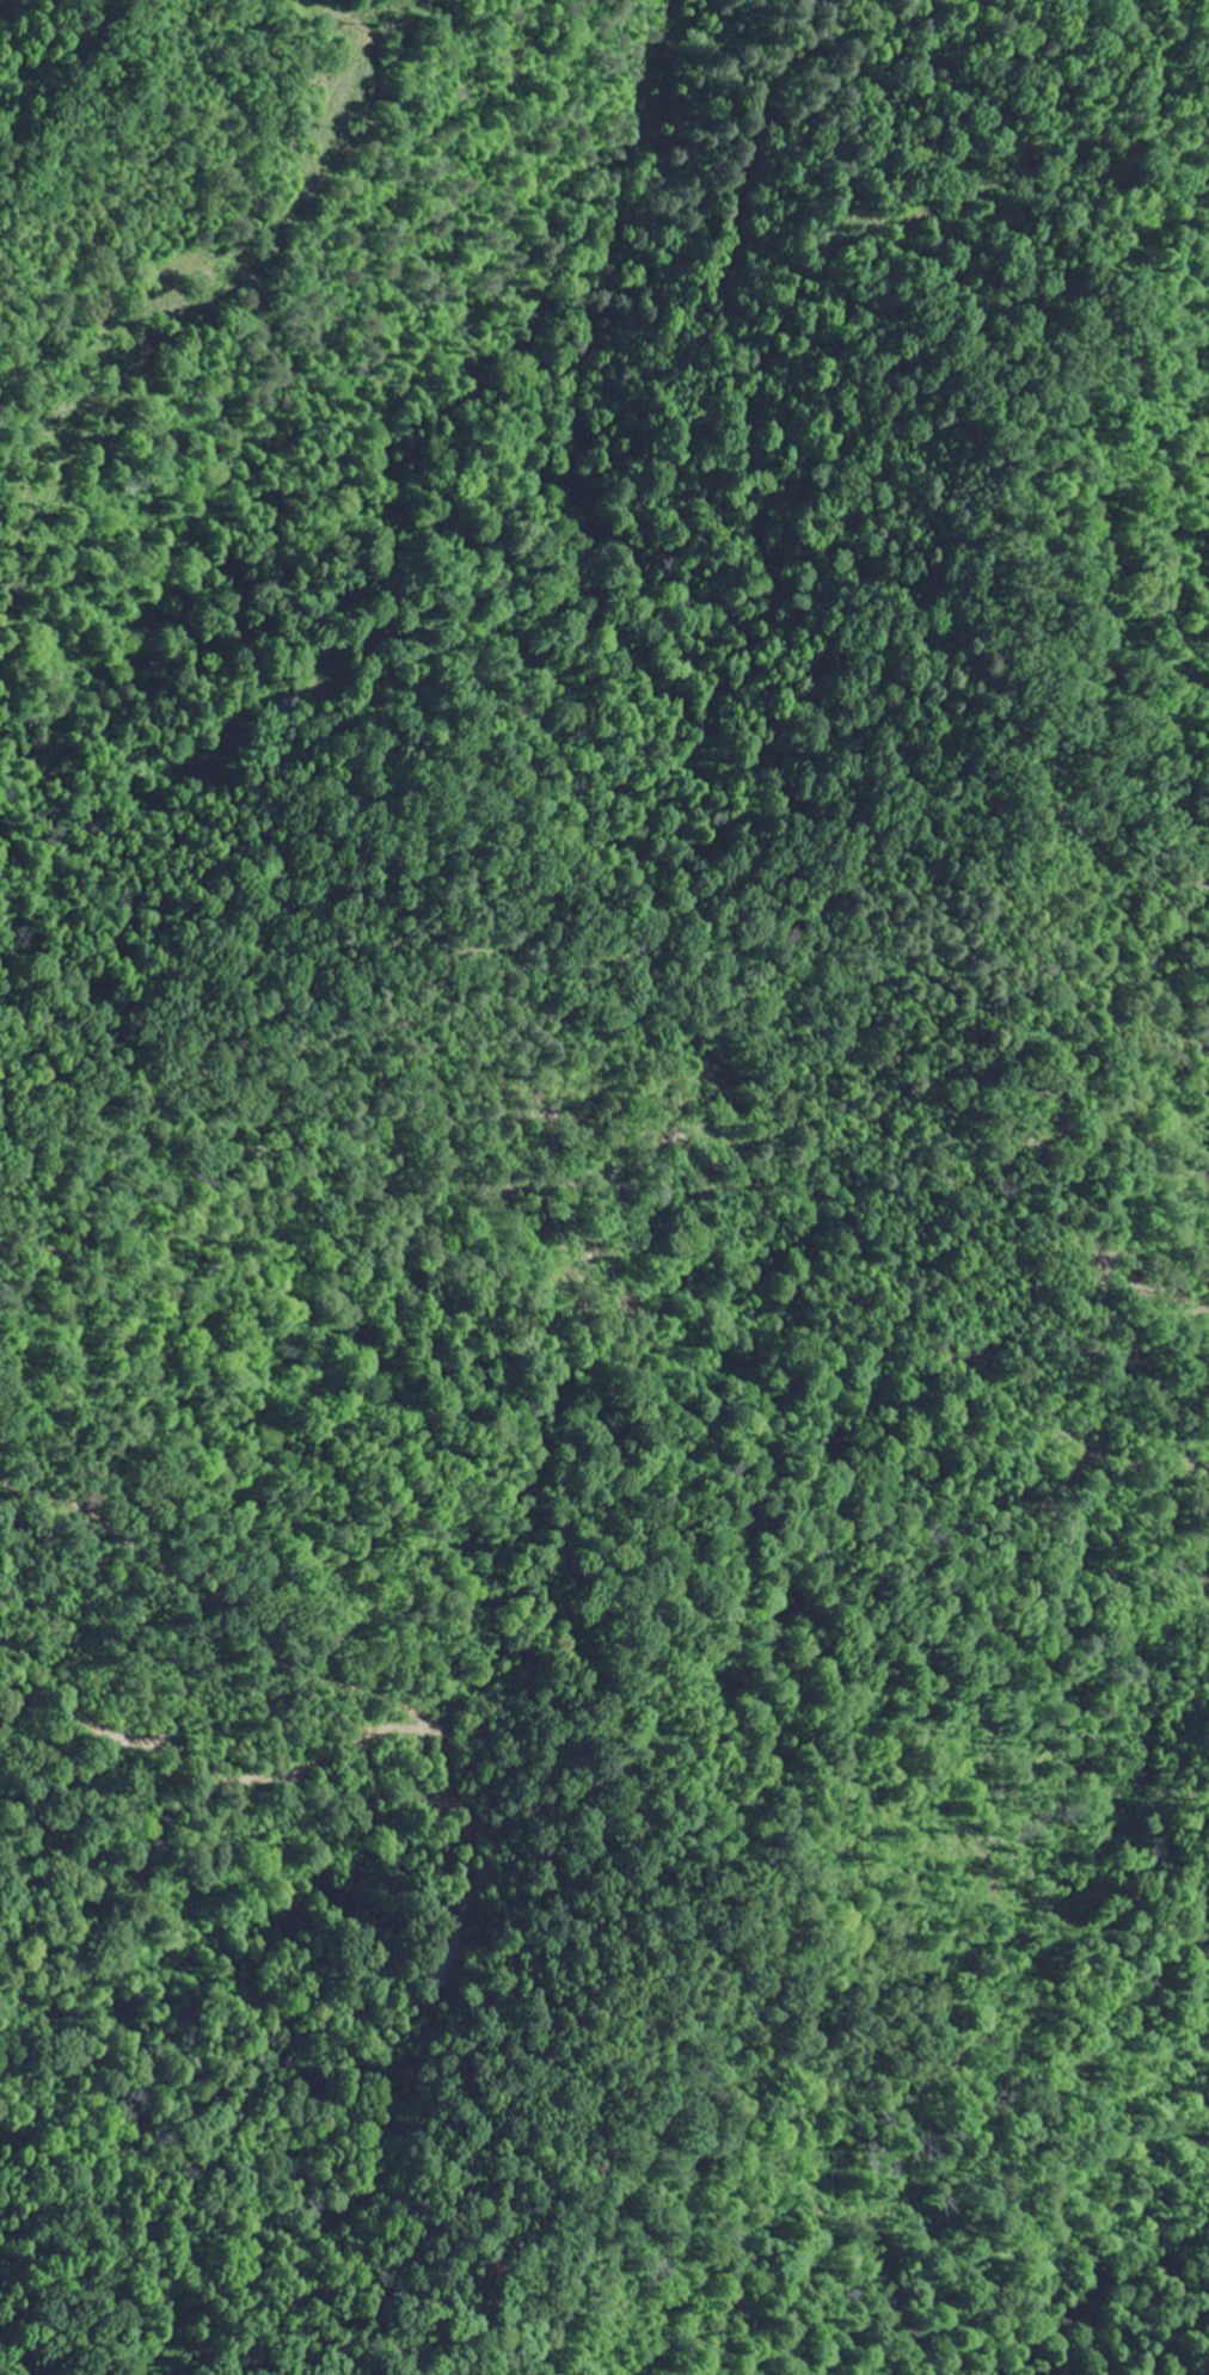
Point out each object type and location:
road: (933, 2055)

